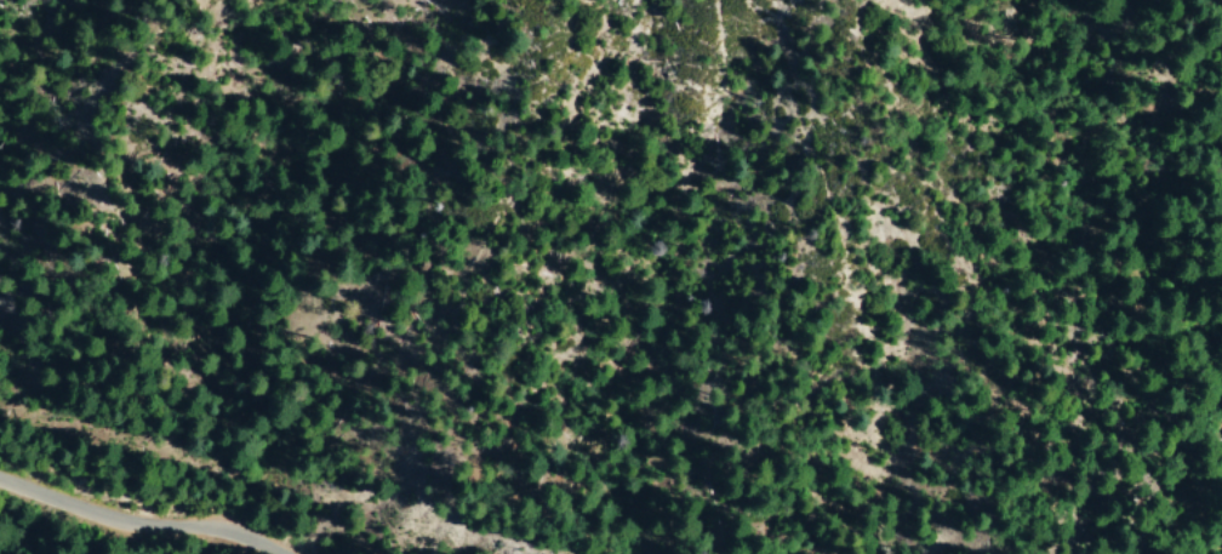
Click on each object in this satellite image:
road: (139, 525)

